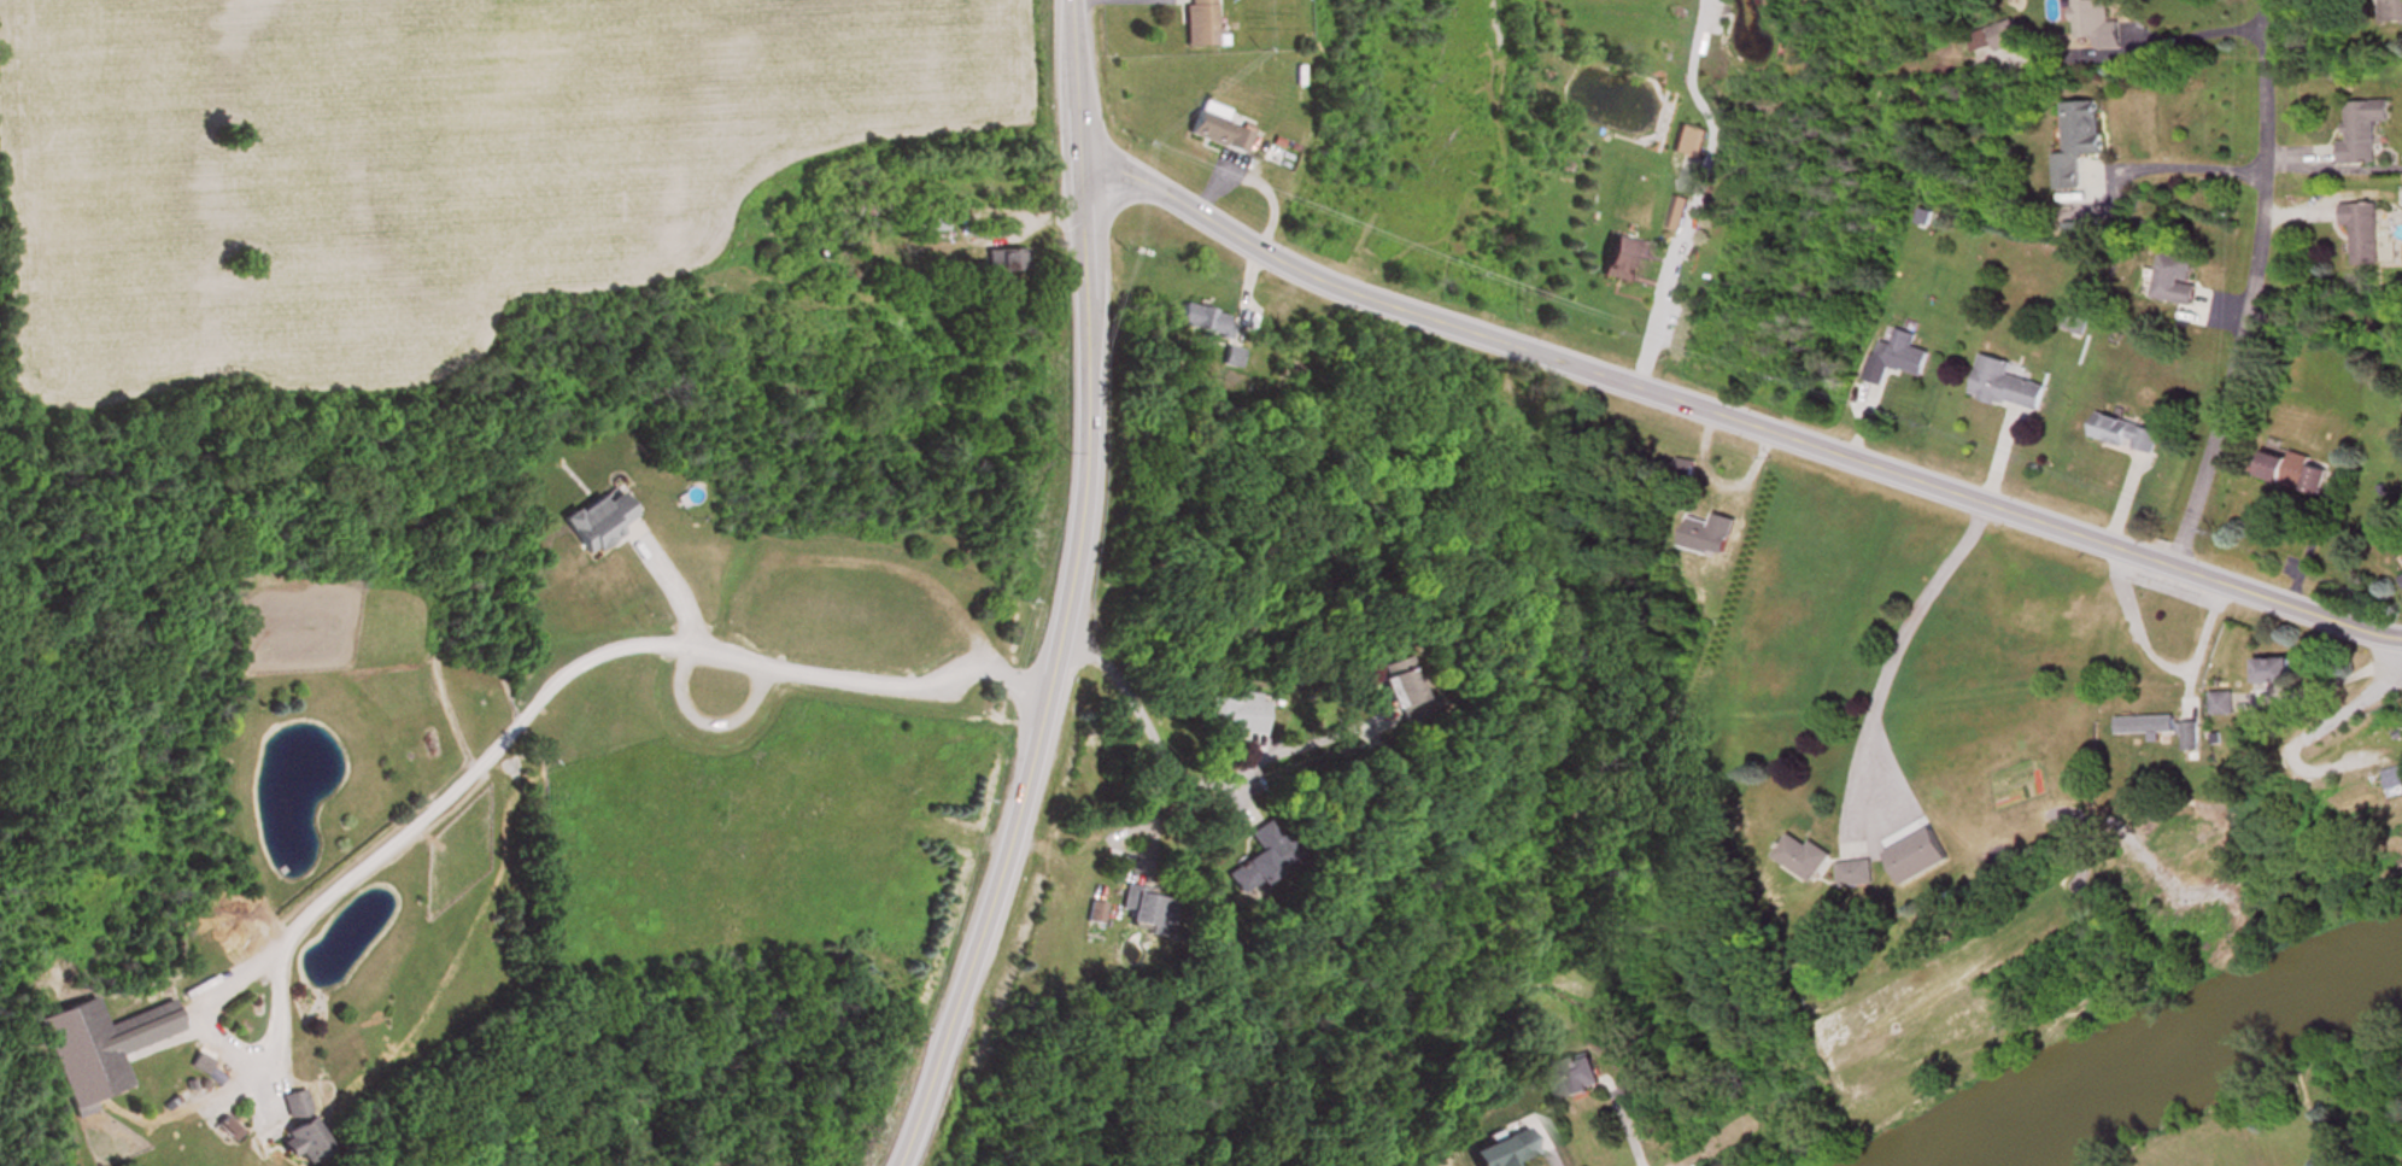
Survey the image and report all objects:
building: (2391, 12)
building: (1202, 24)
building: (2096, 27)
road: (2163, 34)
building: (2004, 36)
building: (1219, 133)
building: (2362, 133)
building: (1691, 143)
building: (2079, 143)
road: (2184, 160)
road: (1688, 217)
building: (2363, 234)
building: (1004, 260)
building: (1622, 262)
building: (2175, 281)
road: (2246, 289)
building: (1206, 320)
building: (2076, 322)
building: (1899, 358)
building: (2006, 386)
road: (1734, 420)
building: (2126, 435)
building: (2292, 473)
building: (588, 522)
building: (1712, 535)
road: (670, 579)
road: (1056, 596)
building: (2038, 619)
road: (591, 641)
road: (1897, 646)
road: (2163, 657)
building: (2274, 672)
building: (1396, 691)
building: (2224, 705)
road: (2357, 705)
building: (1231, 717)
building: (2148, 727)
building: (2192, 737)
road: (1181, 767)
building: (2394, 779)
building: (1801, 860)
building: (1259, 861)
building: (1857, 874)
building: (1148, 912)
building: (98, 1049)
river: (2150, 1057)
building: (1580, 1079)
road: (1044, 1101)
building: (298, 1129)
building: (1499, 1152)

